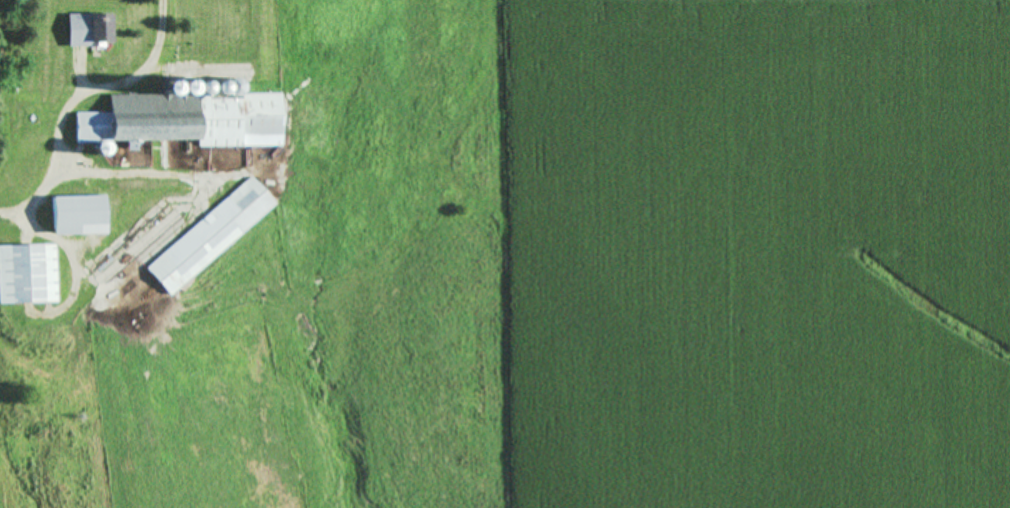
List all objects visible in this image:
building: (217, 28)
building: (87, 32)
road: (73, 101)
building: (178, 129)
building: (76, 218)
building: (208, 239)
building: (27, 277)

